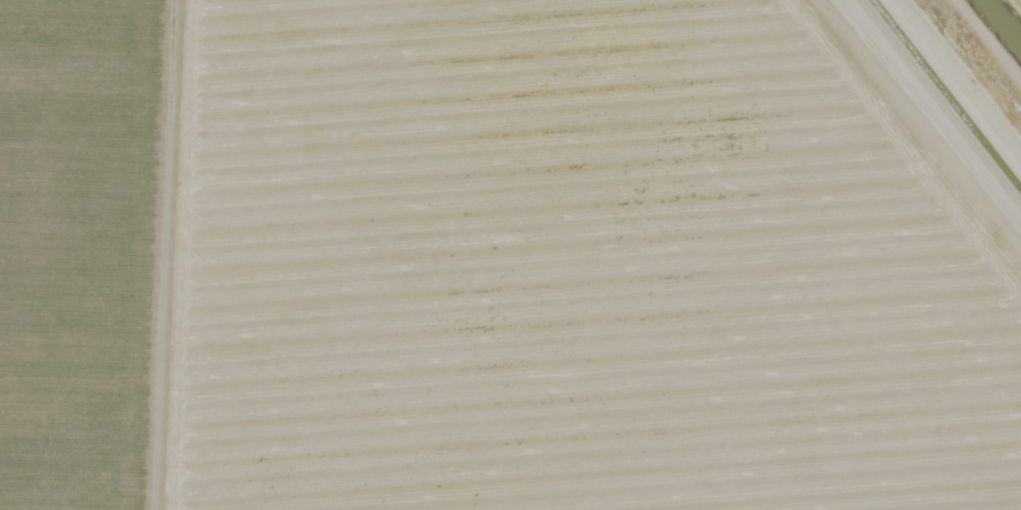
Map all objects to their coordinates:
road: (956, 82)
crop: (510, 255)

